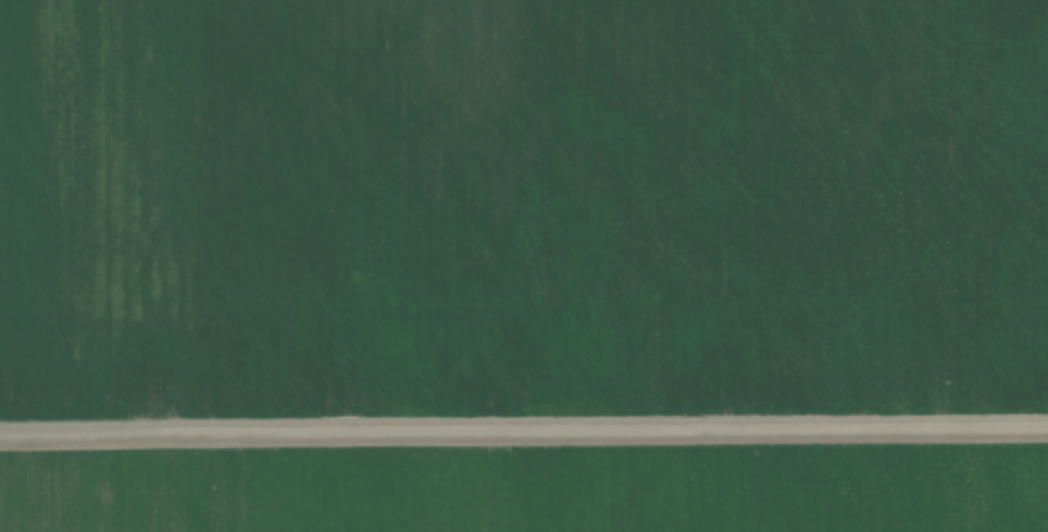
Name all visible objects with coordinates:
crop: (524, 266)

